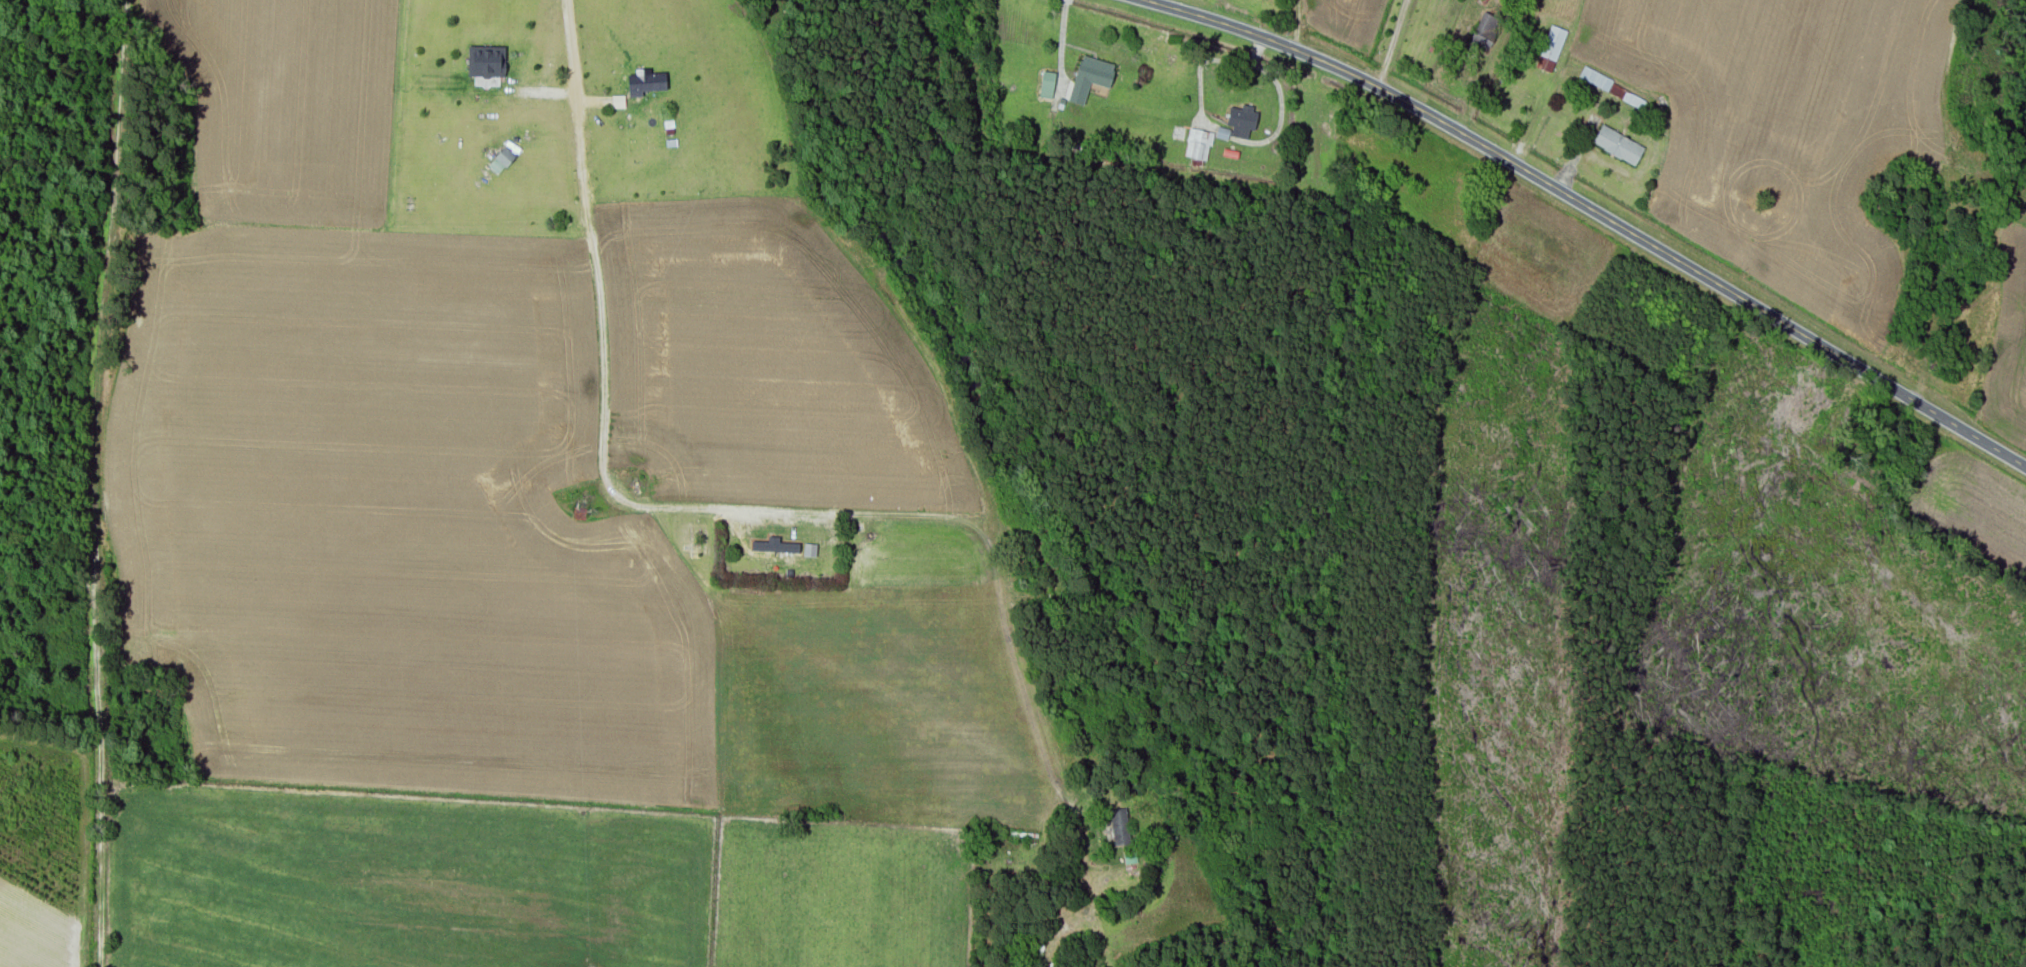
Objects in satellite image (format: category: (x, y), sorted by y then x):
building: (1485, 31)
building: (1551, 49)
building: (488, 62)
building: (1091, 78)
building: (648, 83)
building: (1048, 85)
building: (1244, 121)
building: (1199, 145)
building: (1619, 146)
building: (499, 164)
road: (1596, 211)
road: (69, 486)
building: (586, 506)
road: (903, 589)
building: (1121, 828)
building: (984, 836)
building: (1131, 859)
building: (1038, 947)

